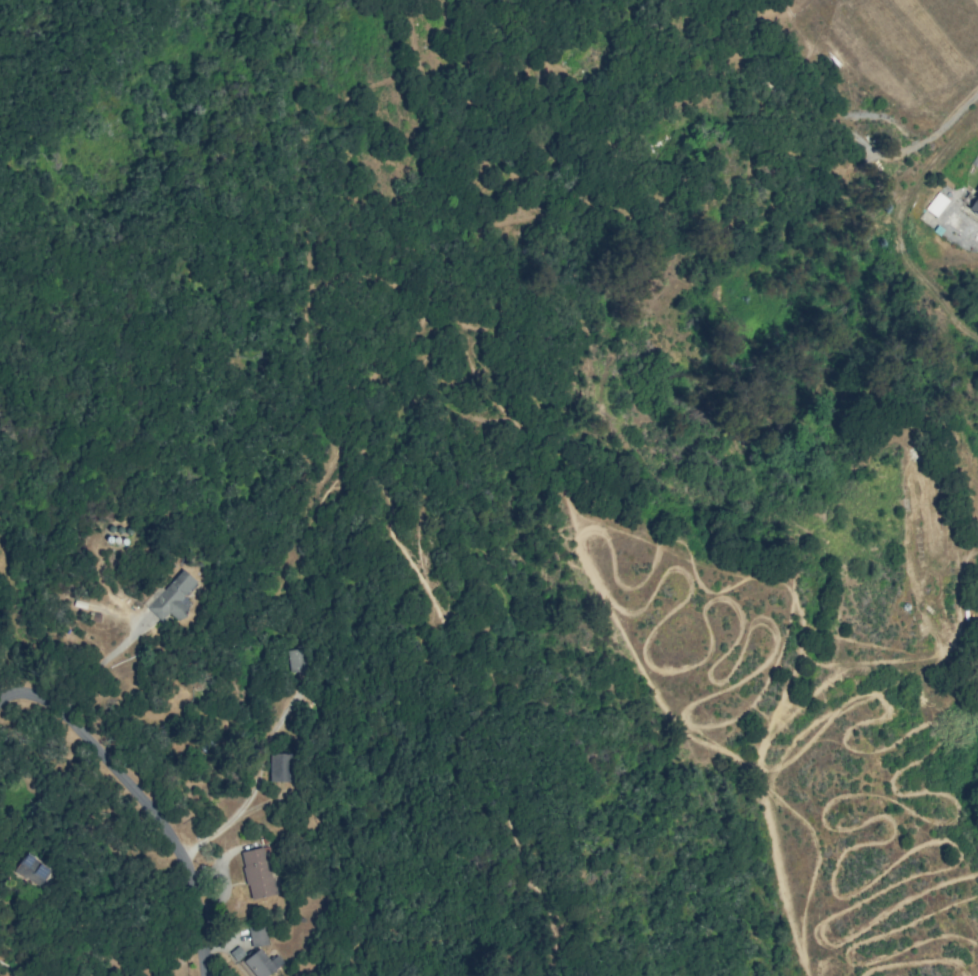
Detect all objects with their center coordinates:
building: (974, 203)
building: (936, 204)
building: (172, 597)
building: (296, 661)
road: (35, 693)
road: (6, 695)
building: (279, 767)
road: (170, 828)
building: (31, 869)
building: (257, 873)
building: (257, 935)
building: (260, 963)

